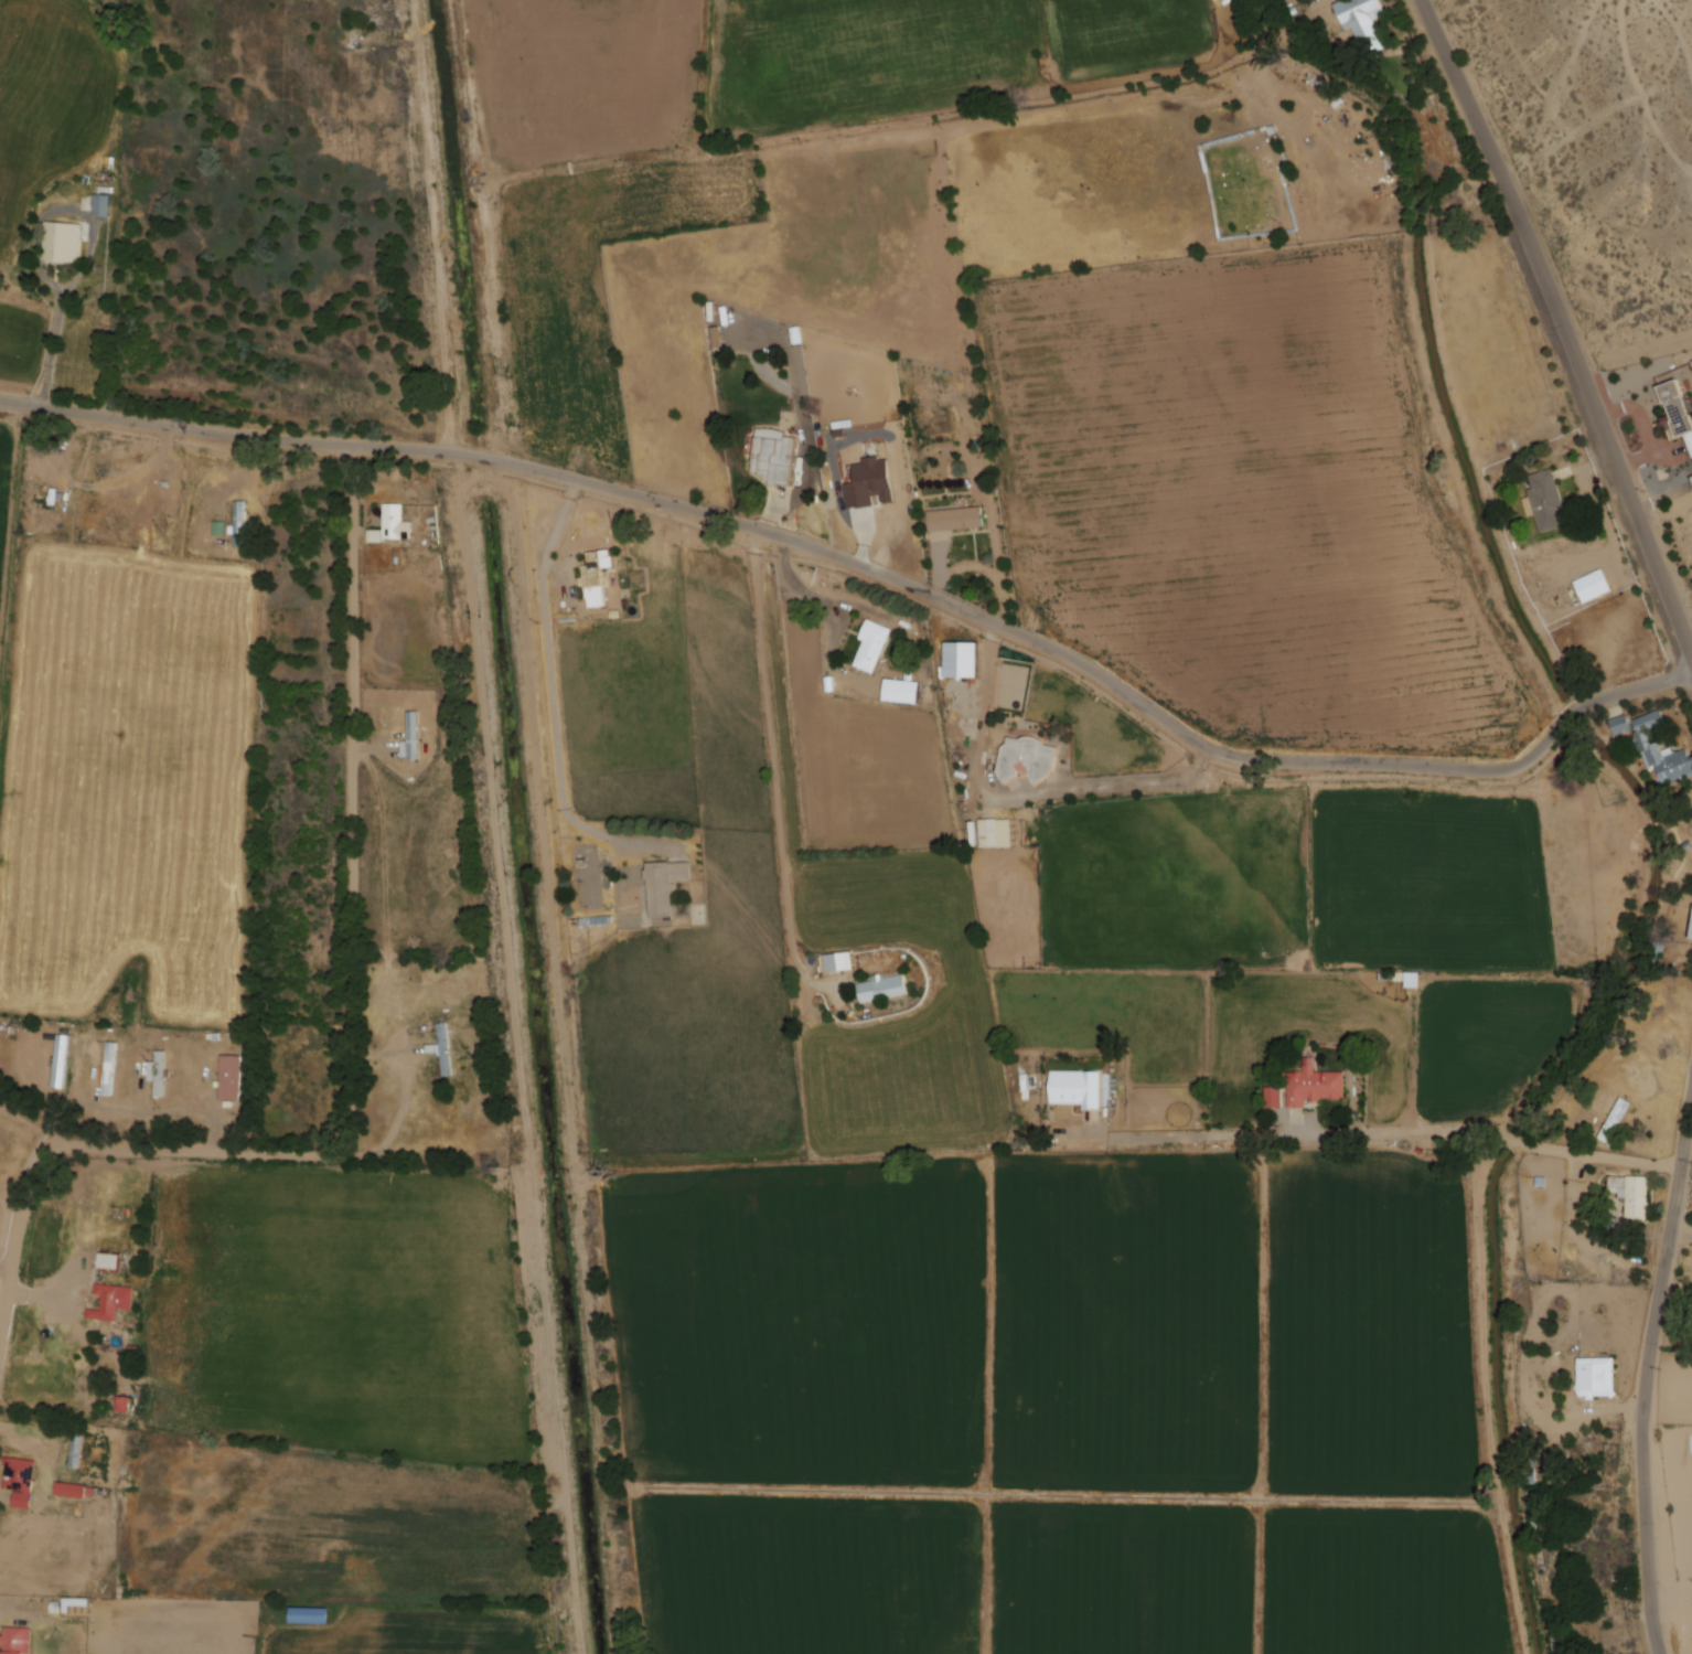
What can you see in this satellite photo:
building: (1363, 20)
building: (101, 205)
building: (62, 243)
road: (1568, 319)
building: (1680, 408)
building: (775, 455)
building: (1545, 500)
building: (957, 519)
building: (240, 523)
building: (396, 523)
road: (874, 569)
building: (596, 579)
building: (1593, 586)
building: (872, 644)
building: (960, 659)
building: (902, 691)
road: (555, 698)
building: (1620, 725)
building: (413, 737)
building: (1661, 753)
road: (774, 756)
building: (1028, 759)
building: (993, 832)
building: (666, 887)
building: (1691, 936)
building: (1657, 953)
building: (838, 962)
building: (884, 988)
building: (445, 1050)
road: (357, 1053)
building: (61, 1061)
building: (110, 1070)
building: (159, 1074)
building: (231, 1079)
building: (1315, 1086)
building: (1078, 1088)
building: (1273, 1097)
building: (1616, 1120)
road: (1403, 1133)
building: (1634, 1196)
building: (109, 1262)
building: (113, 1302)
building: (1598, 1378)
road: (1648, 1385)
building: (76, 1450)
building: (20, 1474)
building: (69, 1491)
building: (310, 1614)
building: (17, 1641)

